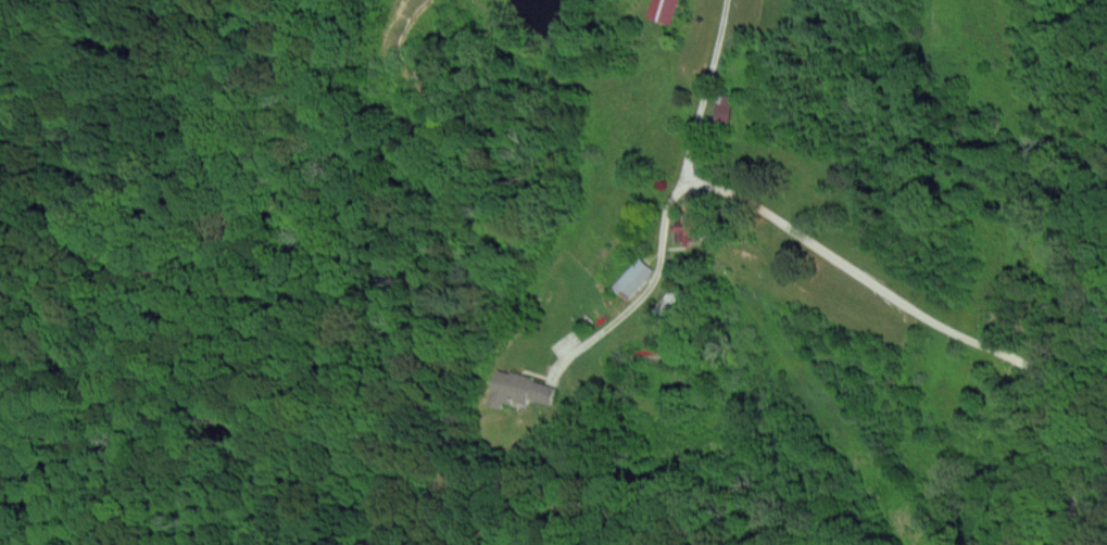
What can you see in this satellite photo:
building: (659, 10)
building: (631, 278)
building: (520, 390)

